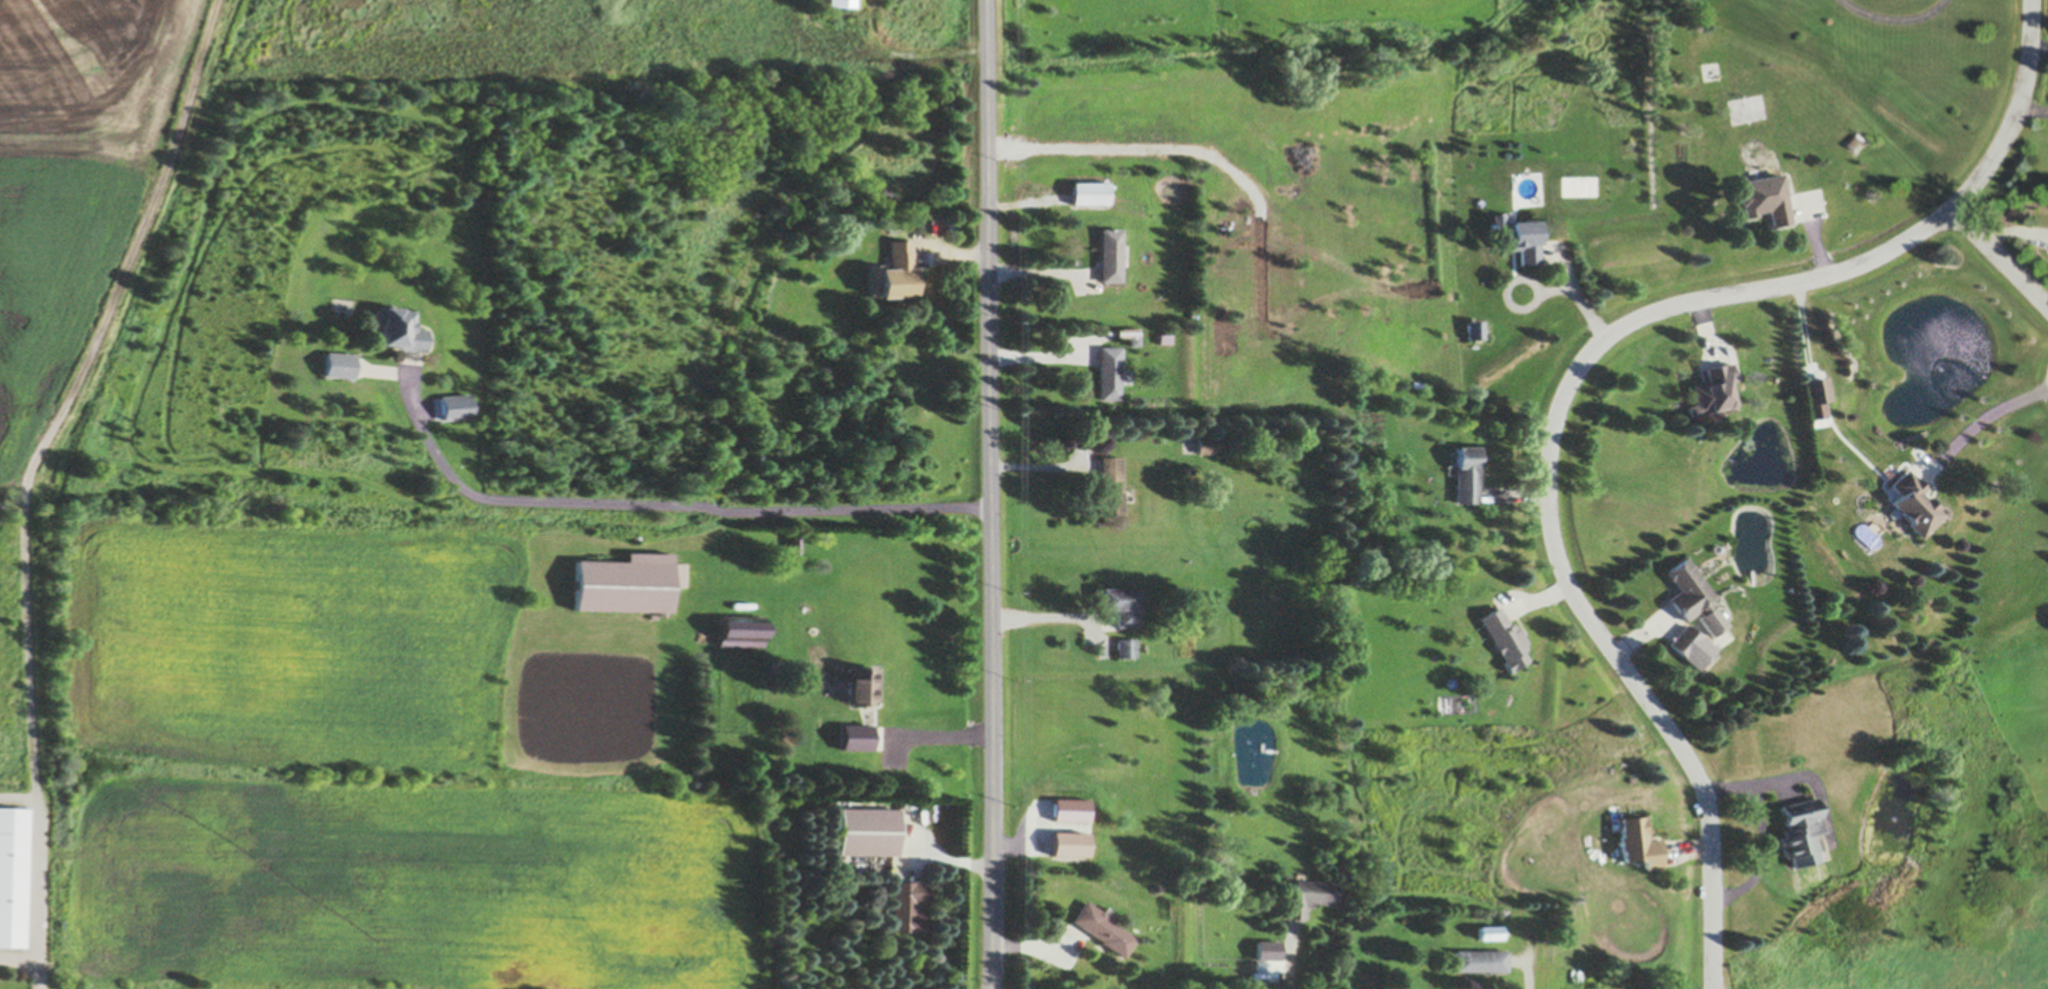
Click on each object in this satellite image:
building: (838, 2)
road: (1897, 18)
building: (886, 32)
road: (2037, 47)
road: (910, 55)
road: (2031, 110)
building: (1857, 141)
road: (1142, 145)
building: (1090, 192)
building: (887, 194)
crop: (90, 195)
building: (475, 197)
building: (1765, 197)
building: (1517, 237)
building: (1110, 254)
road: (2000, 257)
building: (902, 268)
road: (1573, 291)
building: (399, 328)
building: (1474, 329)
building: (1129, 334)
building: (1157, 337)
building: (339, 364)
building: (1110, 372)
road: (1572, 379)
building: (1713, 389)
building: (1817, 389)
building: (456, 406)
road: (1985, 418)
building: (1203, 443)
road: (1045, 466)
building: (1466, 474)
road: (27, 475)
building: (1110, 485)
road: (991, 494)
road: (658, 503)
building: (1913, 504)
building: (796, 545)
building: (628, 583)
building: (1694, 597)
building: (1121, 604)
building: (742, 630)
building: (1505, 638)
building: (1684, 640)
building: (1125, 648)
building: (862, 685)
road: (938, 733)
building: (856, 737)
building: (1069, 810)
building: (1799, 830)
road: (1762, 831)
building: (867, 832)
building: (1068, 844)
building: (1639, 844)
building: (13, 876)
building: (1308, 898)
building: (907, 907)
building: (1103, 928)
building: (1490, 932)
building: (1481, 960)

